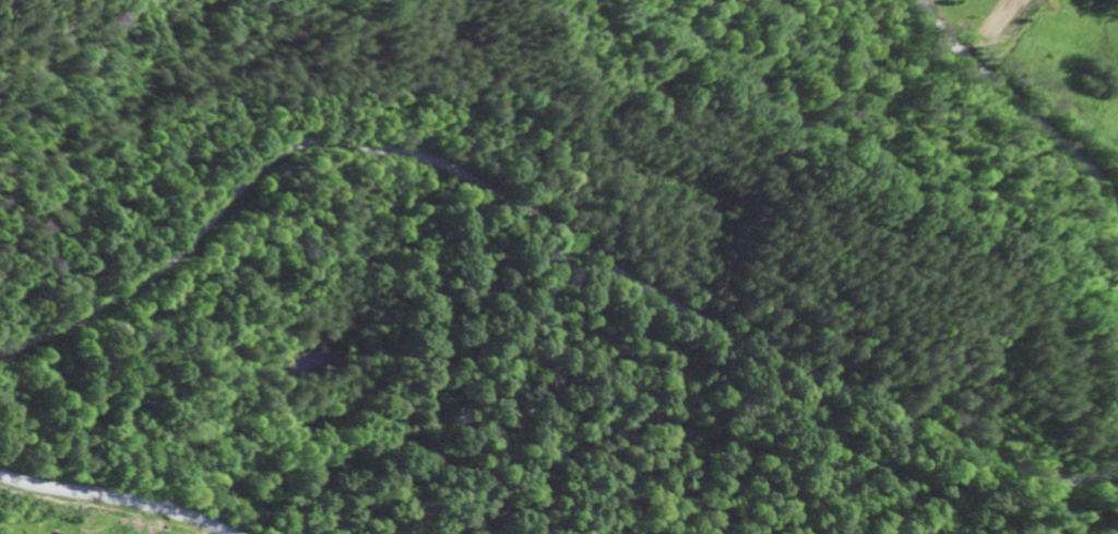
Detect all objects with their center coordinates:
road: (1022, 121)
road: (551, 224)
road: (117, 499)

